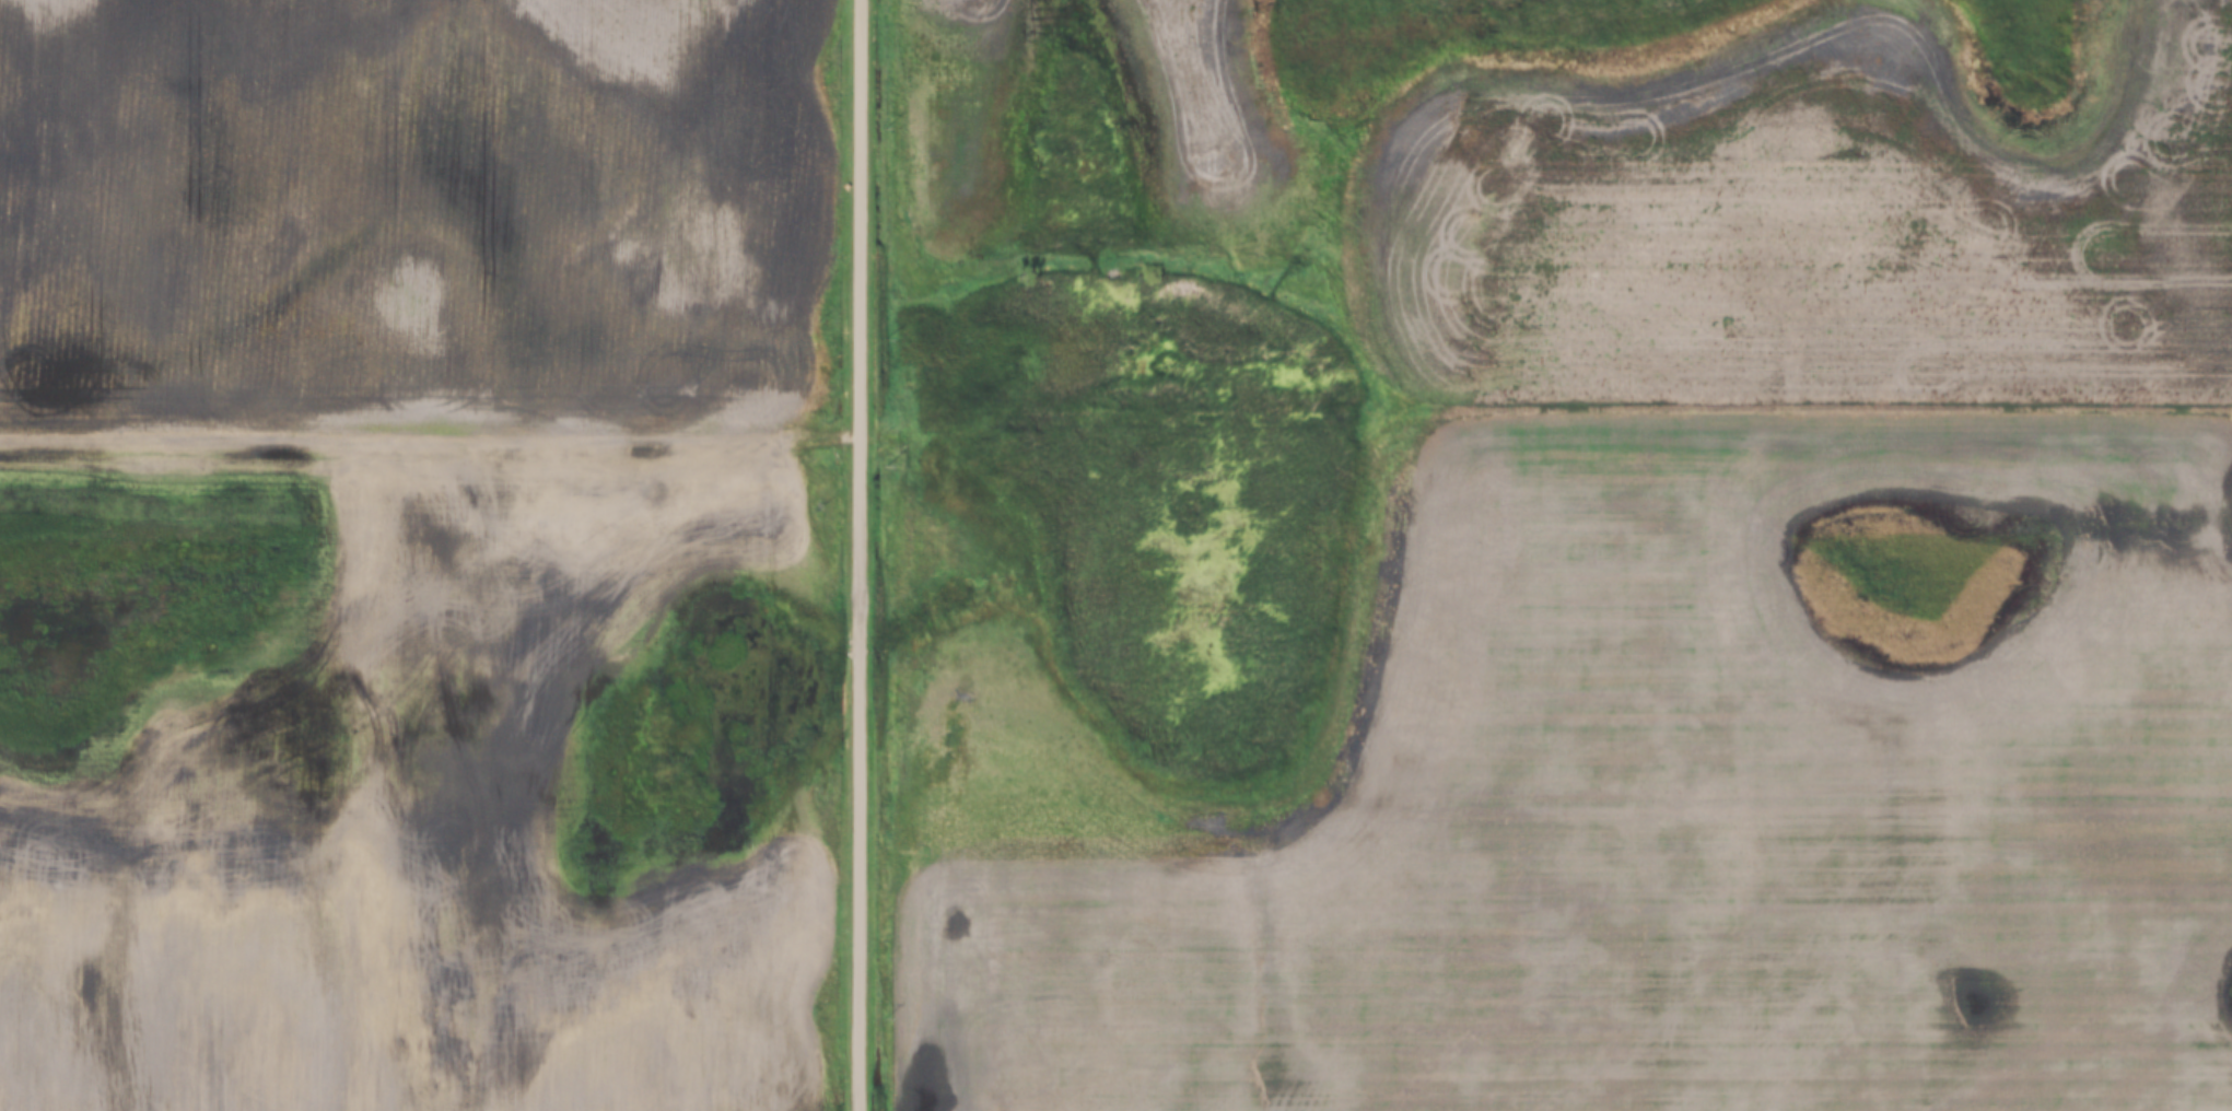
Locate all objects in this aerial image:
road: (860, 554)

